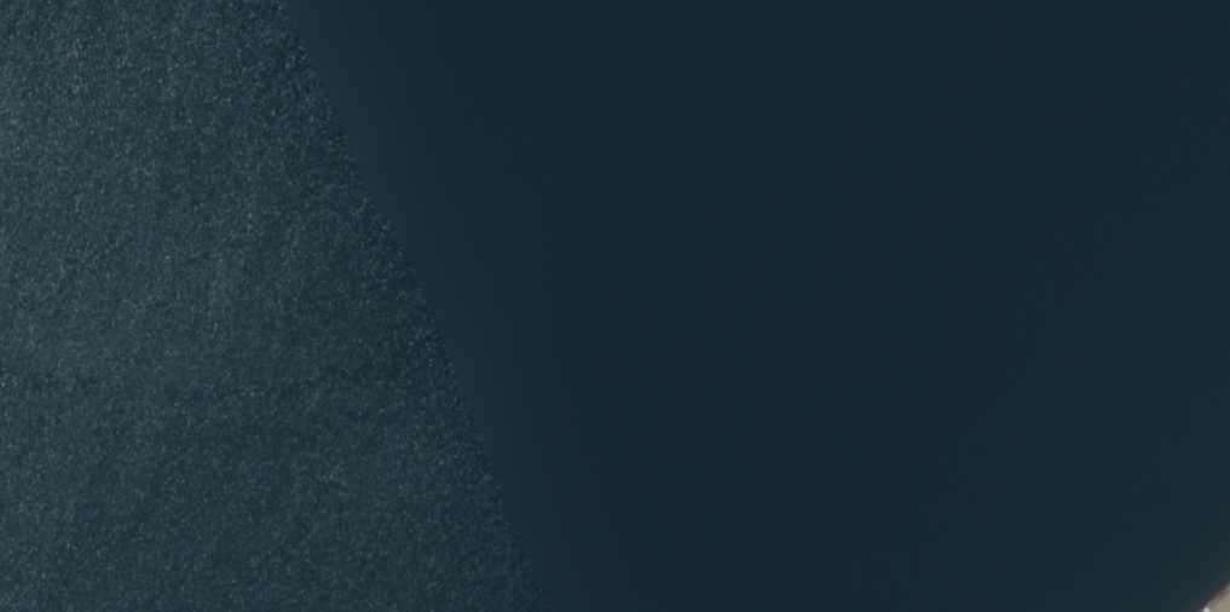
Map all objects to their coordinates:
river: (460, 387)

